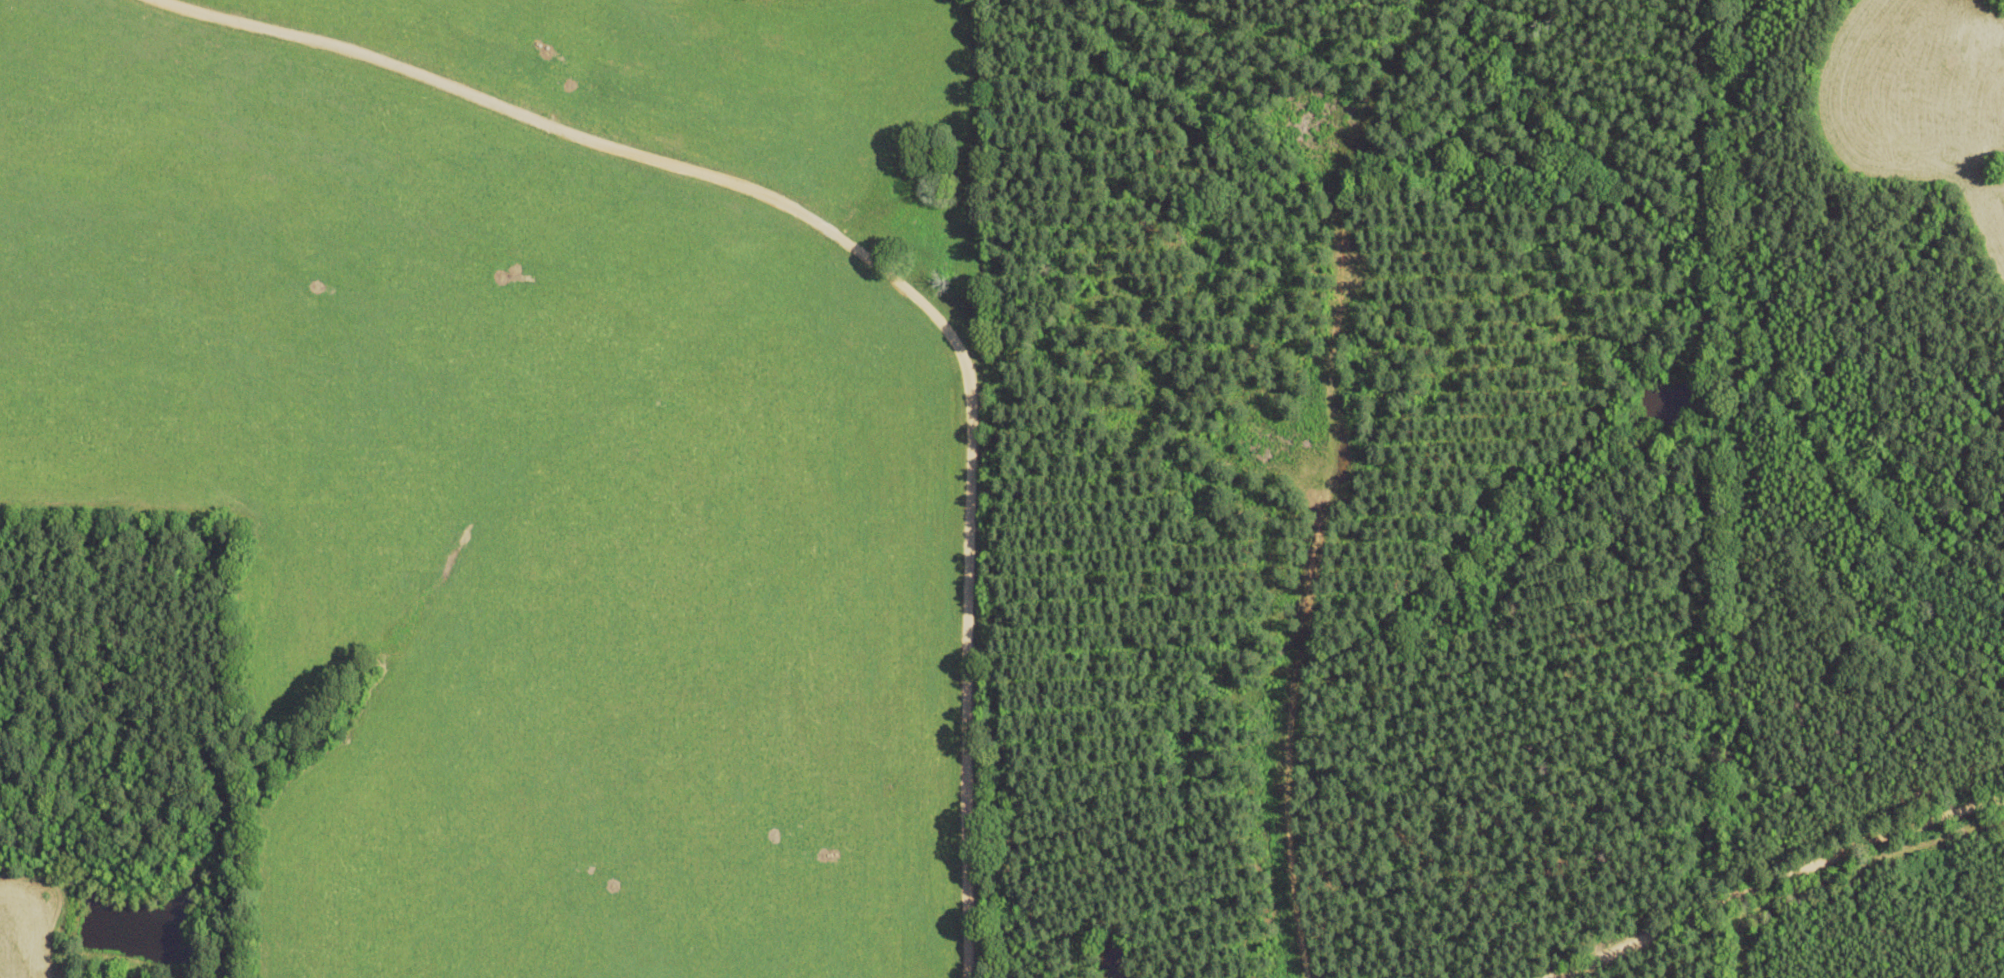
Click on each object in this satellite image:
road: (1769, 880)

